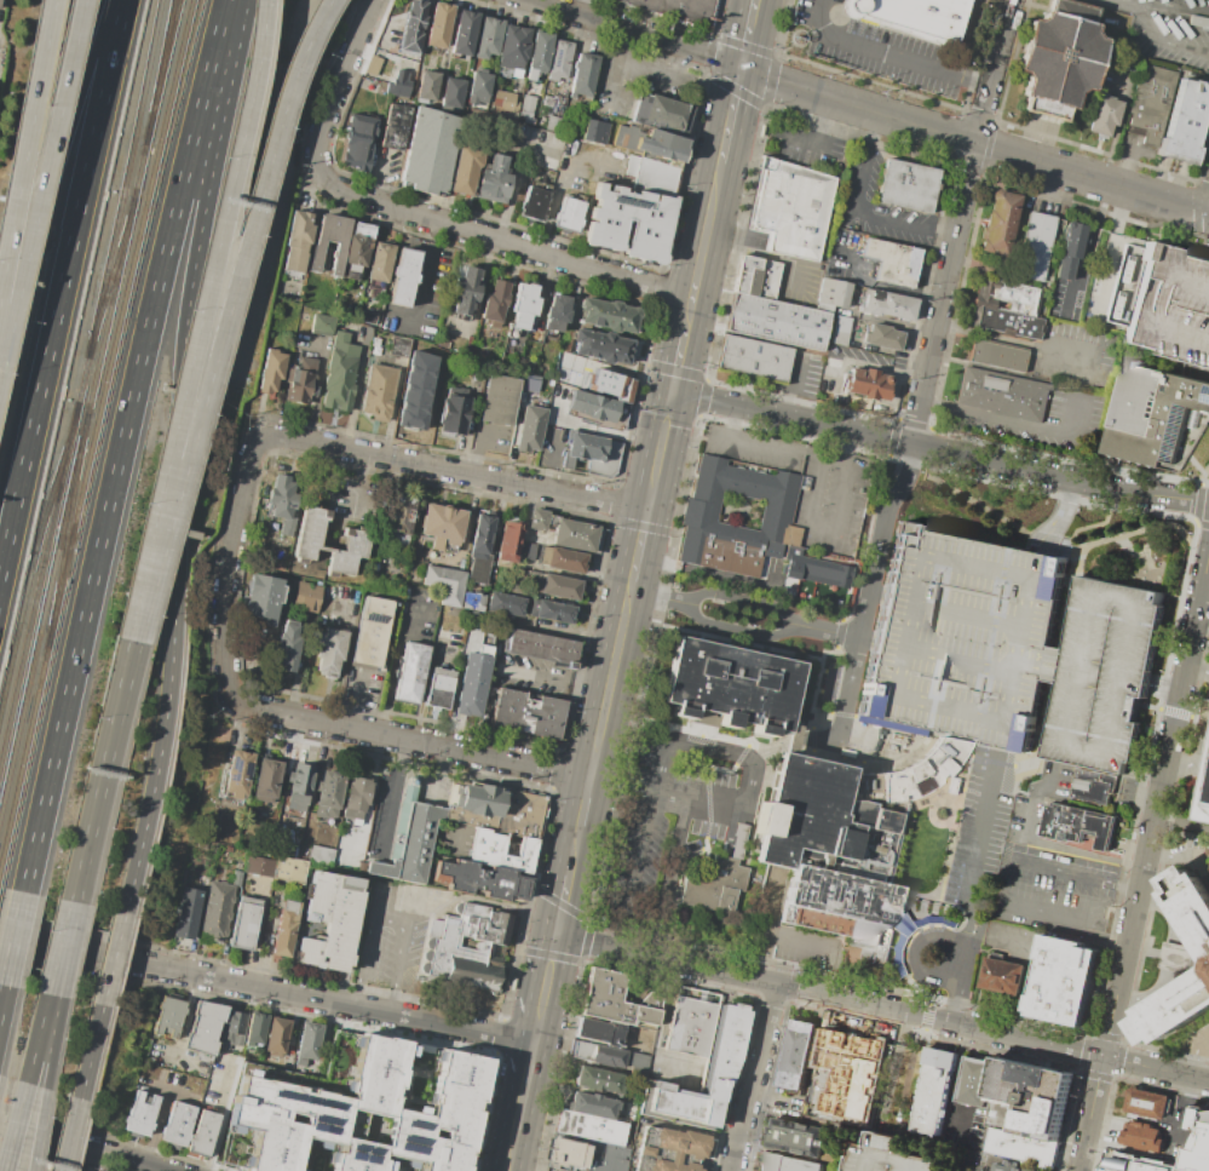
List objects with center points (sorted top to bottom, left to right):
road: (572, 6)
building: (675, 7)
road: (1171, 7)
building: (917, 16)
building: (438, 24)
building: (409, 25)
parking lot: (1167, 30)
building: (465, 33)
road: (634, 33)
road: (748, 34)
building: (489, 38)
road: (1153, 40)
building: (516, 51)
parking lot: (875, 51)
building: (541, 54)
road: (887, 57)
building: (562, 59)
road: (629, 61)
road: (678, 61)
building: (1057, 63)
building: (372, 64)
road: (326, 67)
road: (255, 68)
traffic signals: (741, 69)
railway: (159, 74)
railway: (161, 74)
building: (585, 76)
building: (398, 80)
building: (427, 85)
building: (479, 87)
building: (453, 91)
road: (767, 97)
building: (502, 101)
building: (525, 105)
building: (1148, 105)
road: (289, 107)
building: (663, 114)
road: (730, 115)
building: (1103, 115)
building: (552, 122)
road: (827, 122)
building: (1184, 125)
building: (392, 127)
road: (23, 132)
building: (595, 132)
road: (805, 139)
road: (528, 140)
building: (357, 142)
building: (650, 144)
parking lot: (807, 144)
road: (973, 145)
building: (428, 151)
road: (51, 167)
building: (464, 170)
road: (381, 173)
building: (652, 174)
road: (36, 177)
building: (494, 182)
road: (555, 182)
building: (905, 185)
road: (509, 189)
building: (532, 201)
parking lot: (879, 205)
building: (790, 208)
road: (1207, 208)
building: (569, 213)
road: (416, 214)
road: (857, 214)
road: (965, 220)
building: (632, 222)
building: (1000, 222)
building: (297, 241)
building: (359, 243)
building: (1036, 243)
road: (703, 246)
building: (1070, 253)
road: (766, 254)
building: (316, 256)
building: (380, 263)
building: (892, 263)
road: (426, 265)
railway: (116, 276)
building: (403, 277)
railway: (110, 279)
building: (756, 279)
parking lot: (799, 281)
road: (61, 285)
road: (877, 285)
building: (462, 288)
building: (496, 303)
road: (226, 305)
building: (888, 305)
building: (1170, 305)
parking lot: (1170, 305)
building: (523, 308)
building: (833, 309)
building: (1007, 309)
building: (553, 311)
road: (398, 315)
building: (609, 315)
building: (367, 317)
building: (777, 321)
railway: (117, 322)
building: (321, 325)
building: (368, 335)
building: (875, 337)
building: (375, 341)
road: (1023, 341)
building: (399, 346)
building: (603, 349)
parking lot: (1076, 354)
building: (998, 356)
building: (753, 357)
road: (678, 360)
road: (869, 362)
building: (271, 368)
building: (340, 371)
building: (560, 374)
road: (696, 374)
road: (189, 375)
road: (317, 378)
building: (300, 379)
railway: (82, 381)
building: (531, 383)
building: (867, 383)
building: (610, 385)
road: (793, 385)
building: (415, 390)
traffic signals: (673, 391)
building: (380, 392)
building: (1003, 394)
road: (892, 397)
building: (593, 407)
building: (1155, 409)
building: (499, 411)
building: (453, 413)
parking lot: (1050, 421)
road: (730, 423)
road: (1019, 424)
building: (530, 426)
building: (555, 434)
road: (842, 443)
road: (120, 444)
parking lot: (754, 446)
road: (940, 446)
road: (473, 447)
road: (750, 447)
road: (660, 449)
building: (593, 453)
road: (182, 458)
road: (547, 458)
road: (461, 472)
road: (350, 484)
parking lot: (834, 499)
building: (283, 503)
building: (777, 511)
road: (1061, 513)
building: (401, 518)
building: (536, 518)
building: (441, 523)
railway: (68, 526)
road: (641, 526)
road: (814, 530)
building: (575, 534)
building: (355, 539)
road: (1046, 540)
building: (507, 541)
road: (639, 544)
building: (480, 547)
railway: (34, 552)
building: (526, 552)
building: (560, 559)
building: (443, 582)
building: (558, 586)
road: (870, 589)
building: (305, 592)
road: (1202, 592)
road: (743, 597)
road: (658, 598)
road: (1072, 598)
building: (261, 599)
building: (471, 599)
building: (505, 603)
railway: (44, 609)
building: (552, 610)
road: (134, 628)
road: (738, 628)
building: (460, 630)
road: (827, 630)
building: (370, 632)
building: (284, 647)
building: (545, 647)
building: (328, 649)
building: (1009, 649)
parking lot: (1009, 649)
road: (344, 653)
road: (393, 662)
road: (1059, 665)
road: (1194, 667)
road: (612, 670)
building: (410, 672)
road: (551, 679)
road: (422, 683)
building: (470, 683)
road: (1164, 685)
building: (438, 688)
building: (732, 688)
road: (356, 700)
building: (526, 713)
road: (275, 714)
road: (817, 736)
road: (939, 737)
road: (793, 740)
building: (798, 741)
road: (1040, 742)
road: (772, 753)
railway: (24, 757)
road: (1199, 759)
road: (628, 764)
road: (756, 764)
road: (592, 767)
road: (102, 771)
building: (237, 776)
building: (266, 781)
building: (1094, 783)
road: (658, 786)
building: (300, 788)
road: (1156, 790)
road: (621, 792)
building: (327, 794)
road: (390, 797)
building: (474, 798)
building: (355, 799)
building: (1196, 799)
road: (668, 803)
building: (1207, 809)
building: (522, 814)
parking lot: (679, 817)
building: (1076, 823)
road: (580, 825)
road: (1180, 825)
building: (408, 838)
road: (1041, 840)
building: (844, 843)
building: (201, 846)
building: (228, 849)
building: (499, 850)
building: (319, 854)
road: (984, 854)
parking lot: (776, 856)
building: (260, 865)
parking lot: (978, 865)
building: (289, 869)
building: (236, 877)
building: (479, 880)
road: (1003, 882)
building: (709, 884)
parking lot: (1058, 888)
road: (649, 897)
building: (1193, 899)
road: (392, 906)
road: (563, 906)
road: (1088, 909)
building: (217, 912)
building: (186, 913)
building: (329, 920)
building: (244, 924)
building: (287, 929)
parking lot: (392, 935)
road: (777, 936)
road: (12, 937)
traffic signals: (557, 937)
road: (937, 940)
road: (587, 941)
building: (472, 947)
road: (59, 948)
road: (67, 949)
road: (1173, 957)
road: (114, 962)
building: (1003, 977)
building: (1065, 978)
road: (1, 989)
road: (266, 989)
road: (545, 991)
road: (829, 995)
building: (615, 999)
building: (1179, 1011)
road: (184, 1015)
building: (168, 1017)
building: (234, 1028)
building: (205, 1031)
building: (254, 1031)
building: (598, 1031)
building: (275, 1035)
road: (657, 1037)
road: (36, 1038)
road: (52, 1041)
building: (307, 1041)
road: (91, 1054)
building: (798, 1054)
road: (1197, 1054)
road: (172, 1055)
building: (598, 1055)
road: (1155, 1066)
building: (719, 1069)
road: (890, 1070)
building: (848, 1073)
road: (909, 1073)
road: (755, 1078)
road: (955, 1079)
building: (974, 1080)
road: (524, 1085)
road: (165, 1087)
building: (597, 1090)
building: (934, 1092)
building: (1027, 1097)
building: (1147, 1104)
building: (142, 1110)
building: (355, 1110)
road: (1090, 1112)
building: (178, 1124)
road: (13, 1126)
road: (154, 1127)
building: (592, 1129)
road: (38, 1130)
building: (795, 1132)
building: (203, 1133)
road: (70, 1135)
building: (1144, 1135)
building: (1198, 1142)
building: (1023, 1144)
road: (79, 1147)
road: (511, 1149)
building: (668, 1150)
building: (890, 1155)
parking lot: (890, 1155)
building: (586, 1156)
building: (788, 1163)
building: (1140, 1163)
building: (1003, 1164)
road: (144, 1169)
parking lot: (548, 1170)

